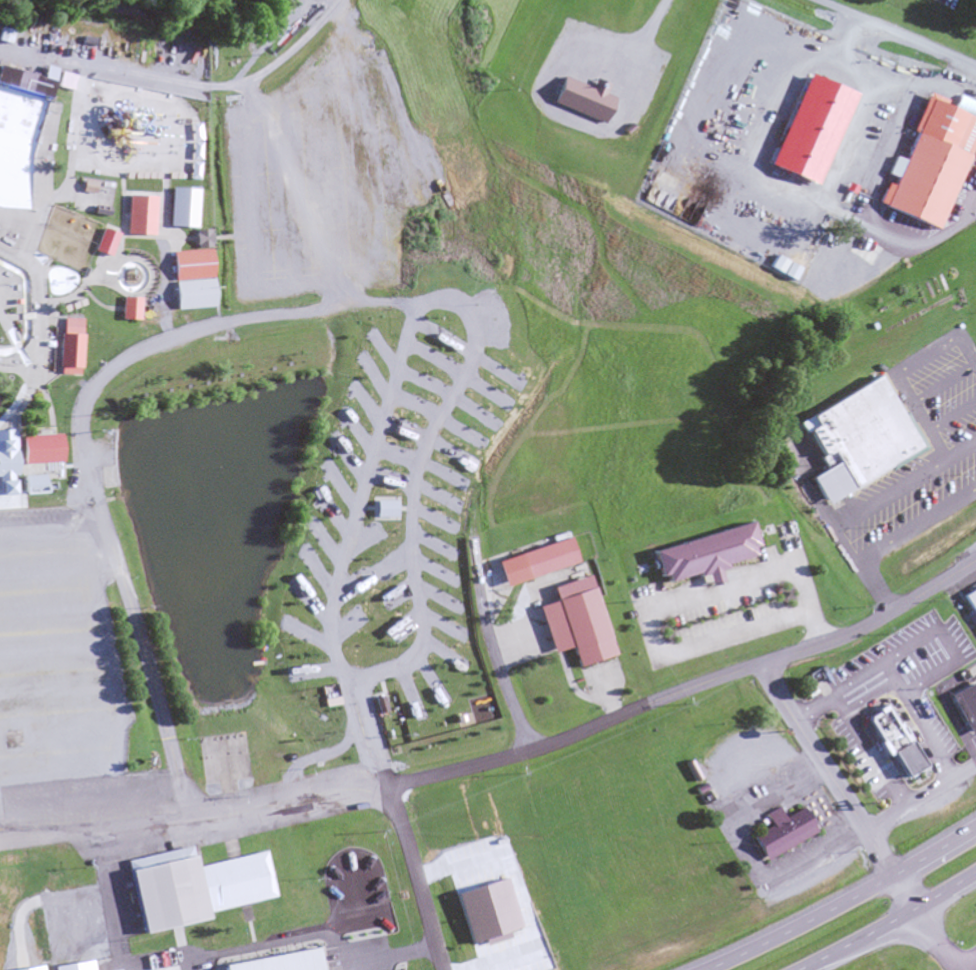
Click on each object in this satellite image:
road: (895, 33)
road: (864, 66)
building: (25, 80)
building: (586, 96)
building: (109, 123)
building: (108, 163)
building: (930, 163)
parking lot: (326, 179)
road: (881, 179)
building: (137, 214)
road: (119, 217)
park: (65, 236)
building: (202, 237)
building: (104, 240)
building: (192, 262)
road: (147, 282)
road: (80, 285)
building: (193, 291)
road: (338, 299)
building: (15, 301)
river: (24, 306)
building: (130, 306)
road: (36, 307)
road: (17, 314)
road: (3, 322)
building: (70, 346)
river: (1, 349)
road: (53, 352)
road: (896, 369)
road: (86, 383)
road: (940, 384)
road: (27, 391)
road: (950, 416)
water park: (233, 420)
road: (15, 434)
building: (853, 436)
building: (41, 448)
parking lot: (916, 454)
building: (7, 460)
building: (34, 482)
building: (106, 482)
road: (48, 500)
road: (92, 514)
road: (837, 532)
building: (704, 553)
building: (550, 557)
road: (49, 570)
road: (876, 585)
road: (101, 595)
building: (971, 599)
road: (51, 610)
building: (581, 621)
road: (954, 663)
road: (729, 685)
road: (75, 689)
road: (814, 702)
building: (966, 705)
road: (872, 707)
road: (77, 730)
building: (893, 741)
building: (82, 754)
road: (926, 758)
road: (962, 769)
road: (832, 772)
road: (80, 773)
road: (1, 778)
road: (894, 778)
road: (418, 782)
road: (908, 803)
road: (92, 830)
building: (781, 831)
road: (906, 892)
building: (167, 893)
road: (843, 903)
road: (890, 925)
building: (288, 959)

